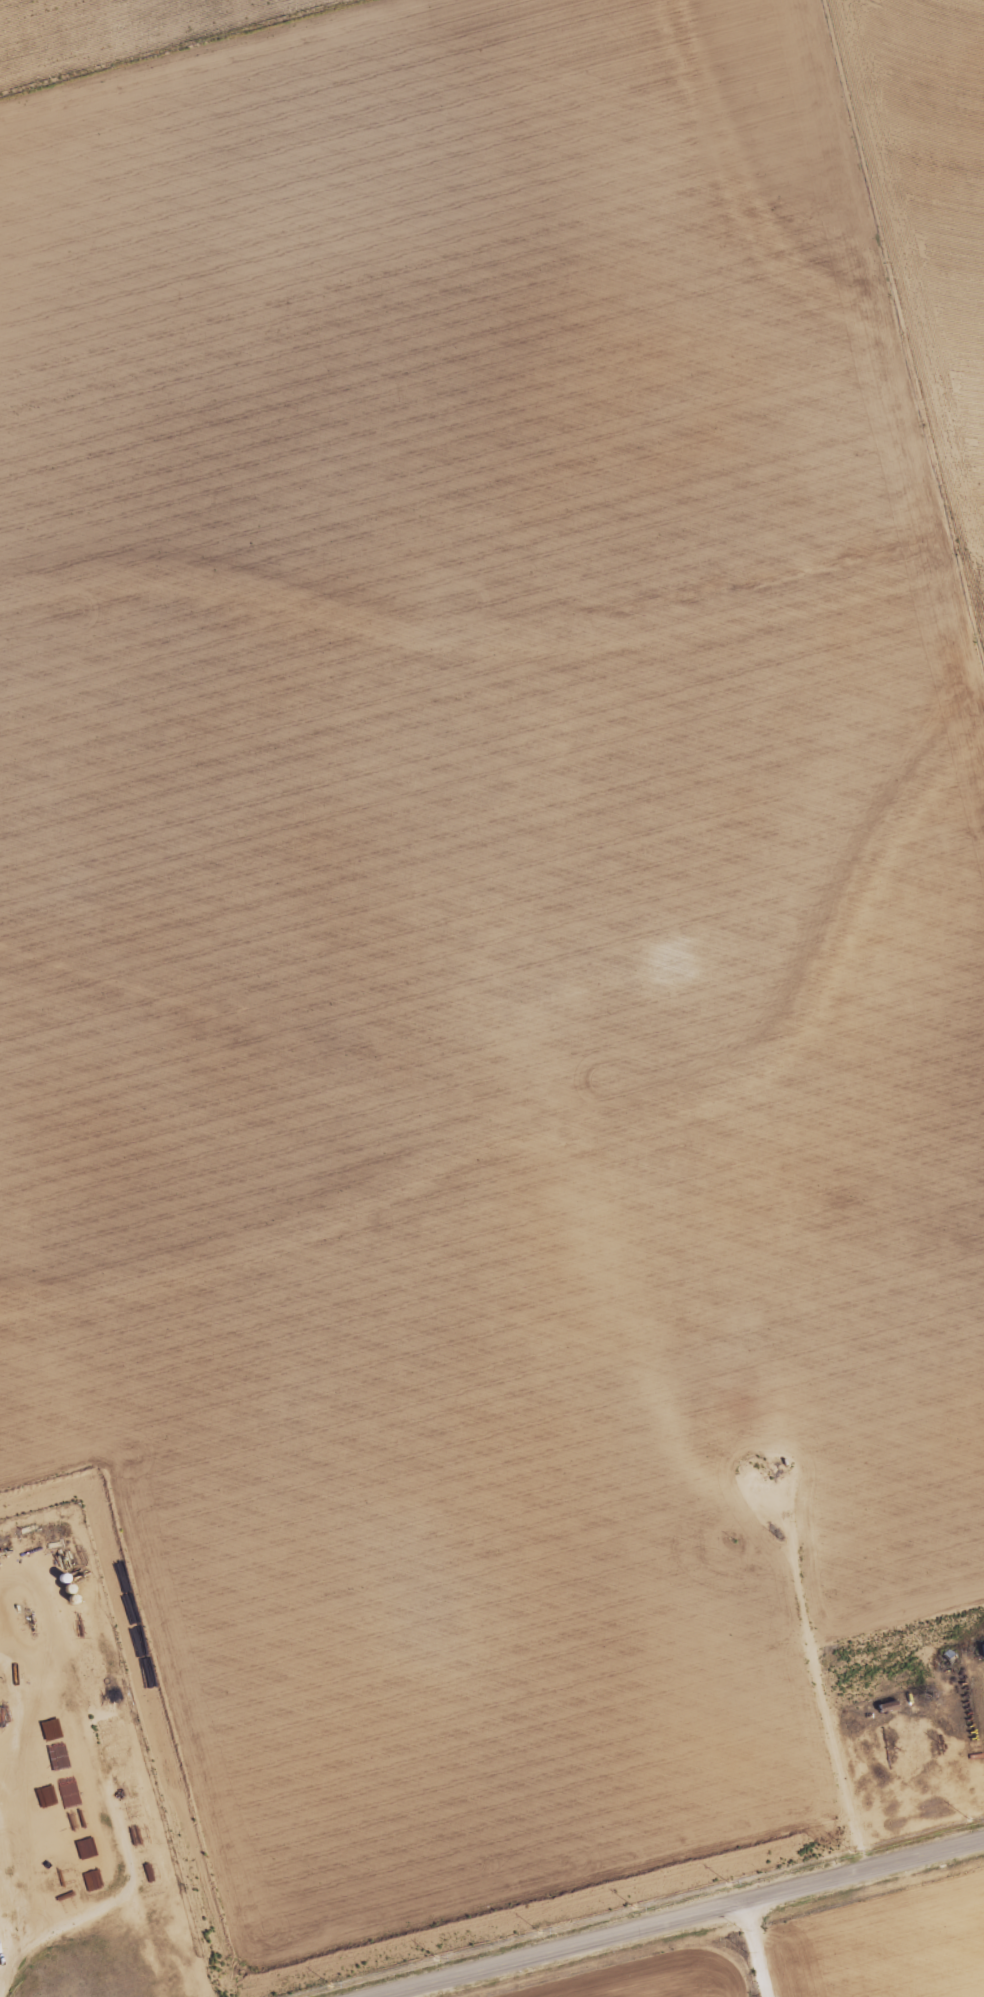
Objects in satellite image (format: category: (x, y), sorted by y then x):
building: (982, 1649)
road: (828, 1723)
road: (678, 1917)
road: (747, 1948)

